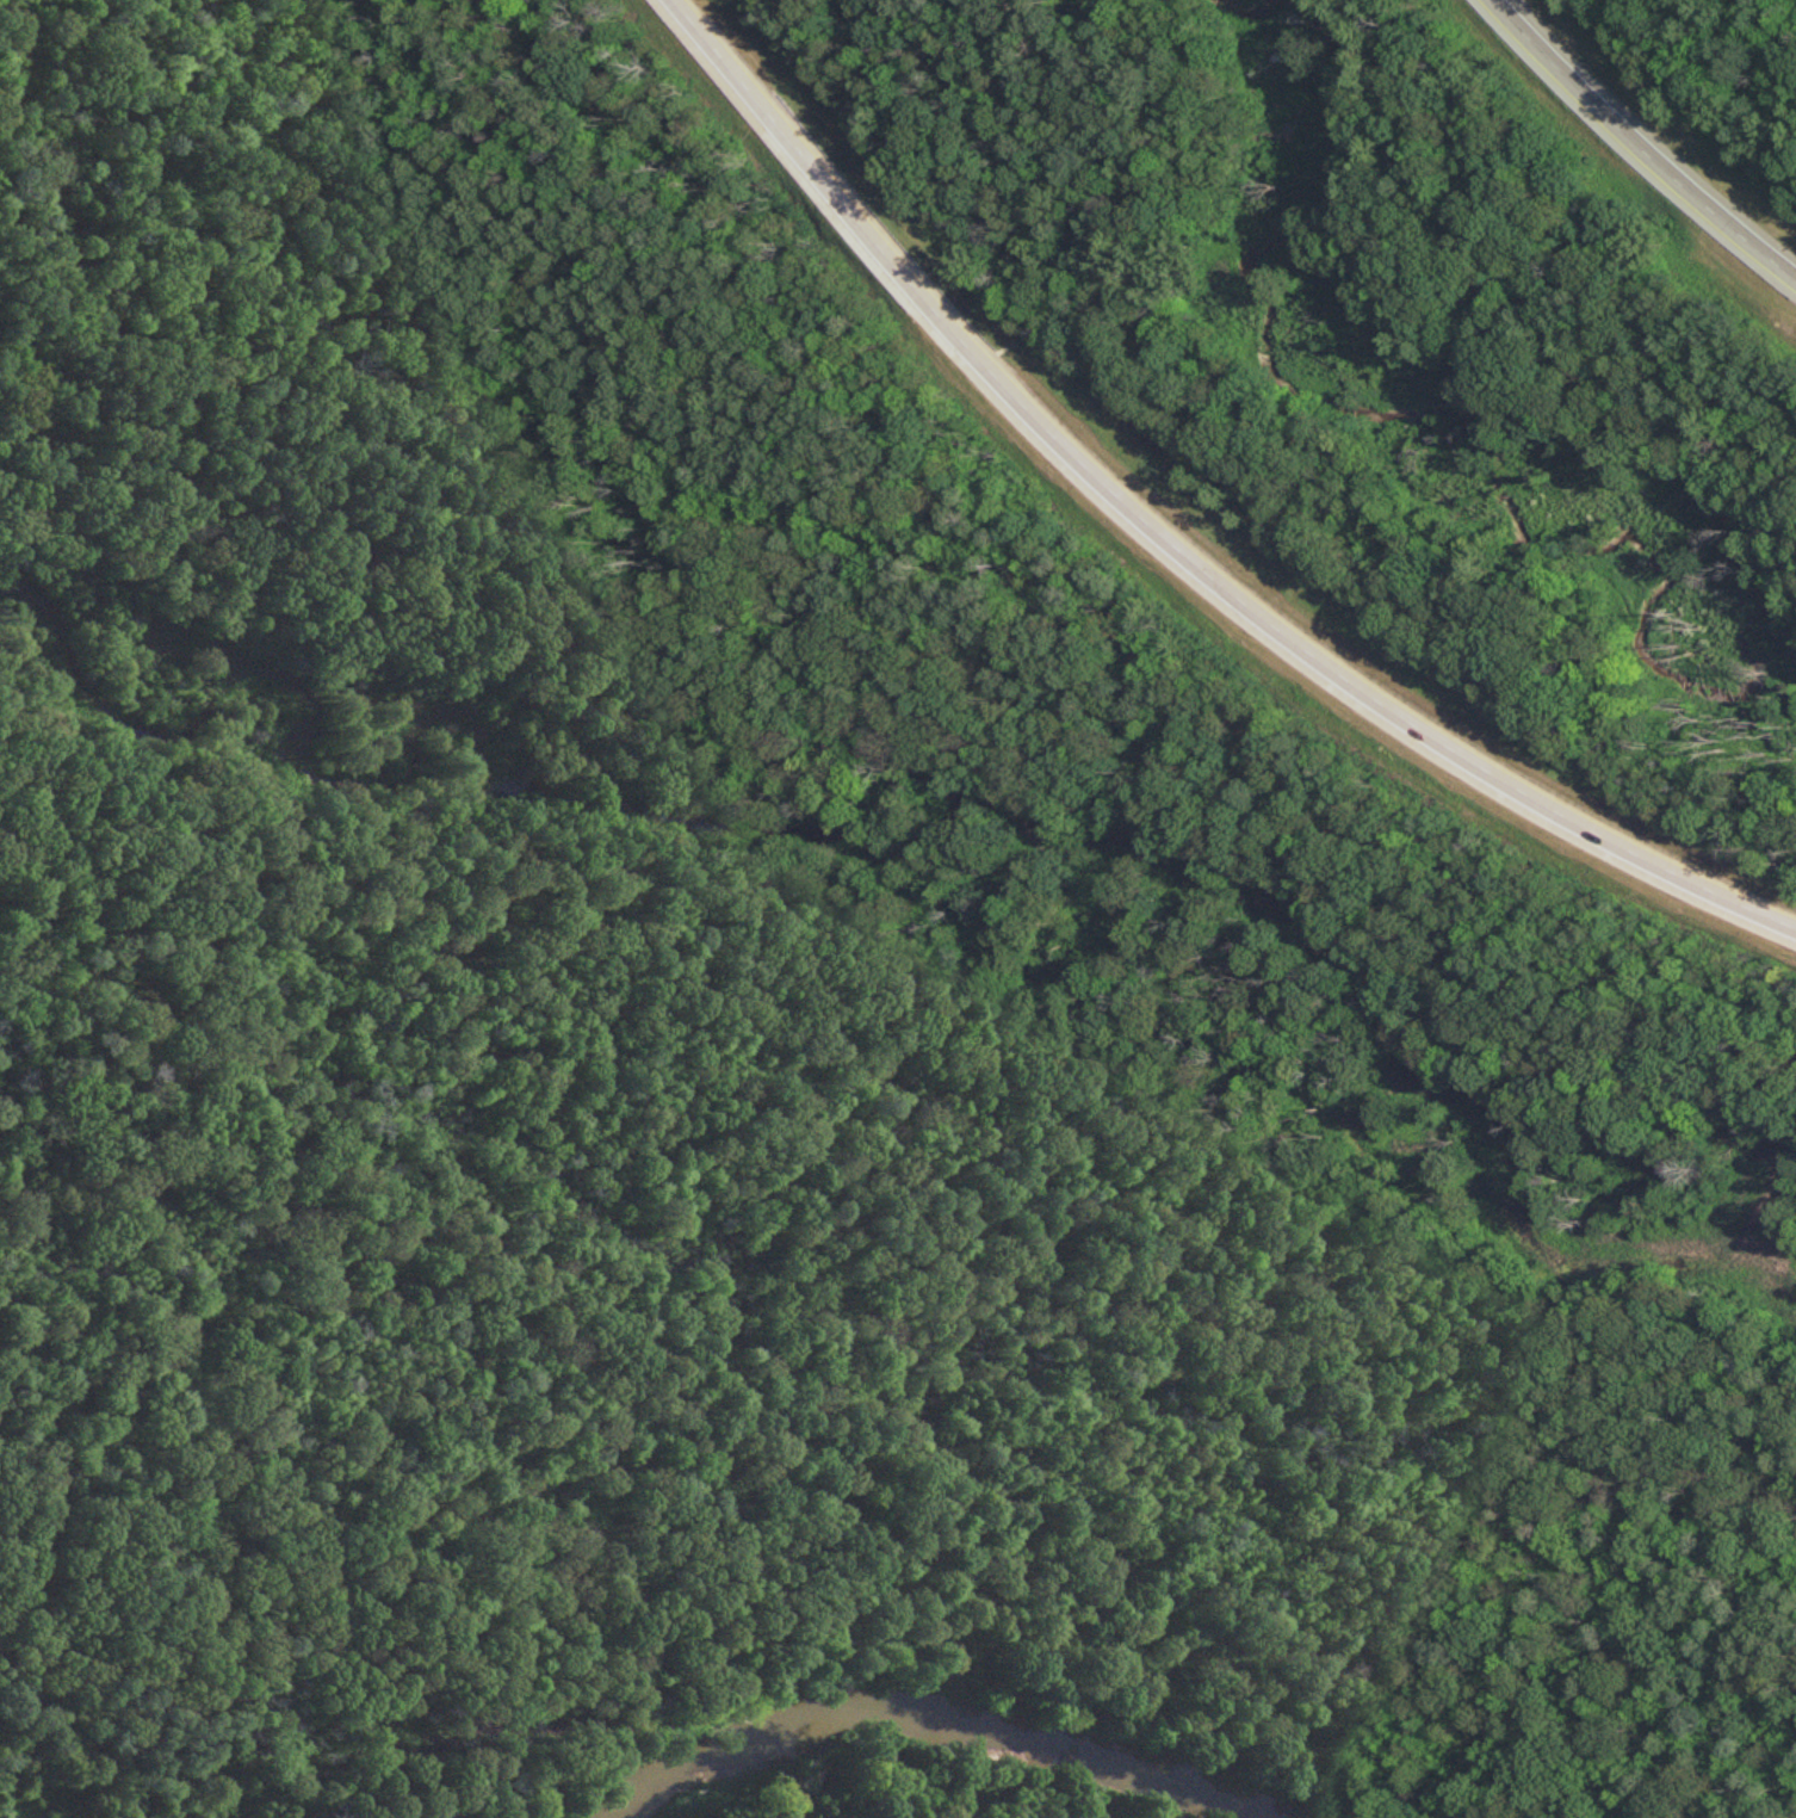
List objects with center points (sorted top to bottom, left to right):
road: (1639, 146)
road: (1172, 543)
road: (1491, 1454)
river: (968, 1723)
road: (1518, 1775)

